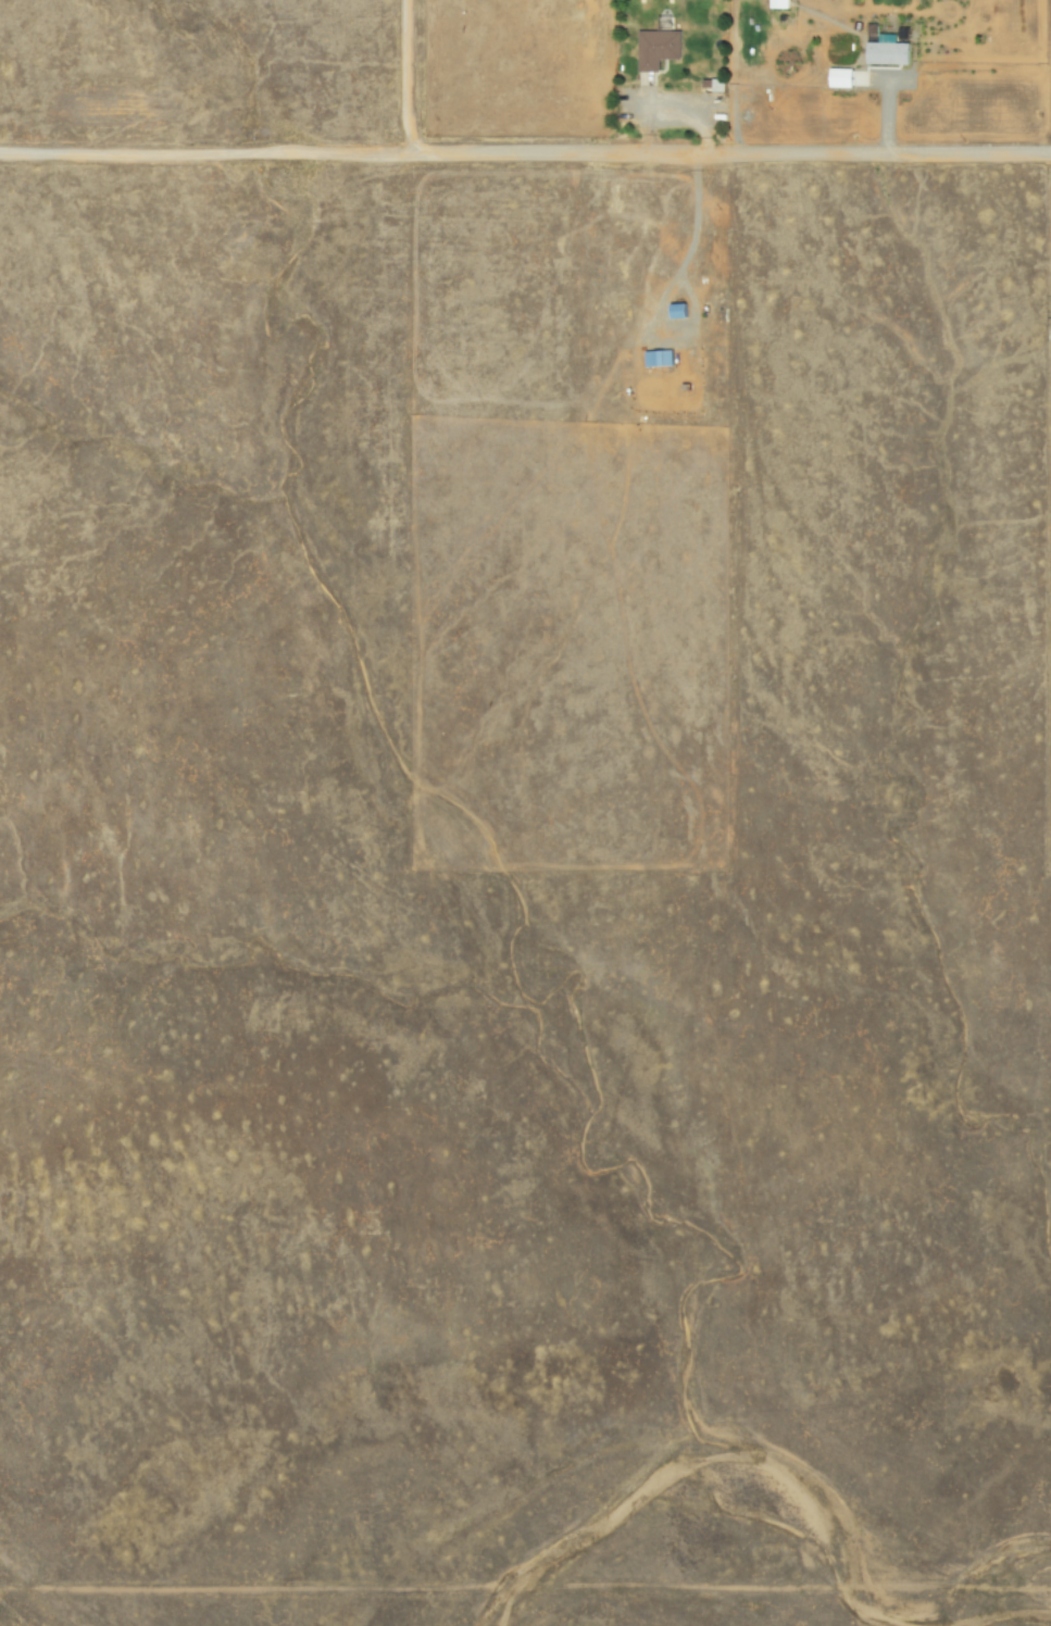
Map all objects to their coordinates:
building: (778, 3)
building: (656, 46)
building: (888, 50)
road: (401, 75)
building: (842, 77)
road: (525, 150)
building: (659, 358)
road: (525, 1583)

